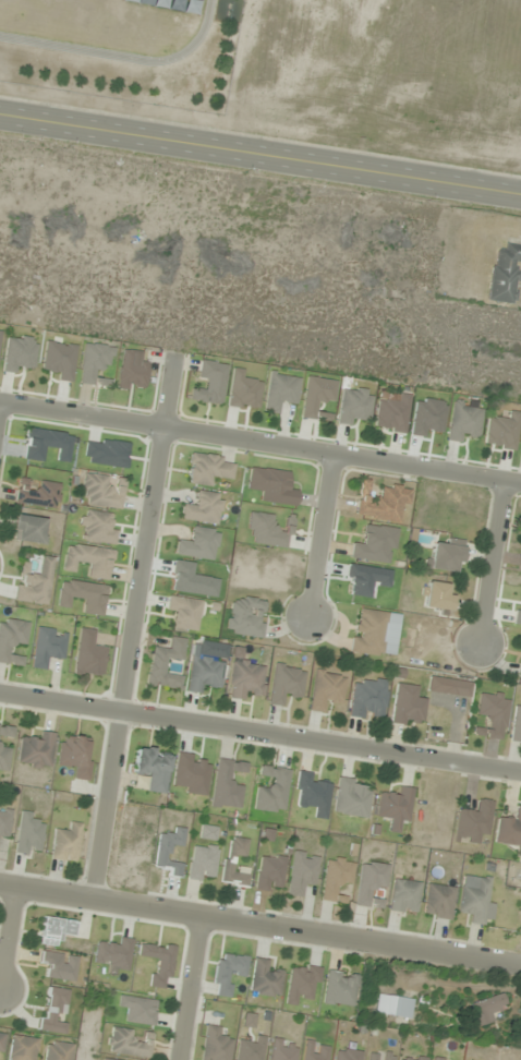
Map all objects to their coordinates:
road: (260, 154)
building: (505, 275)
building: (0, 336)
building: (20, 353)
building: (60, 360)
building: (95, 364)
building: (210, 384)
building: (242, 390)
building: (280, 393)
building: (316, 396)
building: (354, 406)
building: (392, 414)
building: (464, 421)
building: (502, 432)
road: (260, 441)
building: (209, 469)
building: (272, 486)
building: (104, 491)
building: (40, 495)
building: (381, 503)
building: (203, 508)
building: (99, 528)
building: (31, 530)
building: (267, 530)
road: (320, 537)
building: (198, 543)
building: (376, 545)
building: (446, 556)
building: (89, 561)
road: (492, 564)
building: (35, 583)
building: (84, 595)
building: (437, 595)
building: (184, 613)
building: (246, 616)
road: (136, 626)
building: (369, 631)
building: (12, 640)
building: (48, 647)
building: (166, 664)
building: (205, 673)
building: (245, 677)
building: (287, 684)
building: (327, 689)
building: (369, 699)
building: (408, 706)
building: (493, 714)
building: (517, 722)
road: (259, 734)
building: (3, 748)
building: (37, 750)
building: (76, 755)
building: (153, 768)
building: (191, 774)
building: (228, 784)
building: (272, 790)
building: (313, 795)
building: (351, 798)
building: (396, 807)
building: (4, 821)
building: (473, 822)
building: (510, 828)
building: (29, 834)
building: (66, 843)
building: (169, 852)
building: (234, 862)
building: (203, 863)
building: (270, 874)
building: (303, 874)
building: (337, 879)
building: (372, 883)
building: (404, 896)
building: (475, 899)
building: (439, 902)
road: (259, 926)
building: (58, 929)
road: (9, 942)
building: (113, 954)
building: (158, 962)
building: (60, 965)
building: (228, 973)
building: (265, 978)
building: (303, 983)
building: (340, 988)
road: (191, 989)
building: (393, 1007)
building: (487, 1009)
building: (54, 1010)
building: (140, 1010)
building: (2, 1043)
building: (128, 1043)
building: (216, 1045)
building: (23, 1048)
building: (252, 1049)
building: (283, 1050)
building: (59, 1051)
building: (316, 1051)
building: (348, 1055)
building: (380, 1056)
building: (412, 1058)
building: (108, 1059)
building: (439, 1059)

